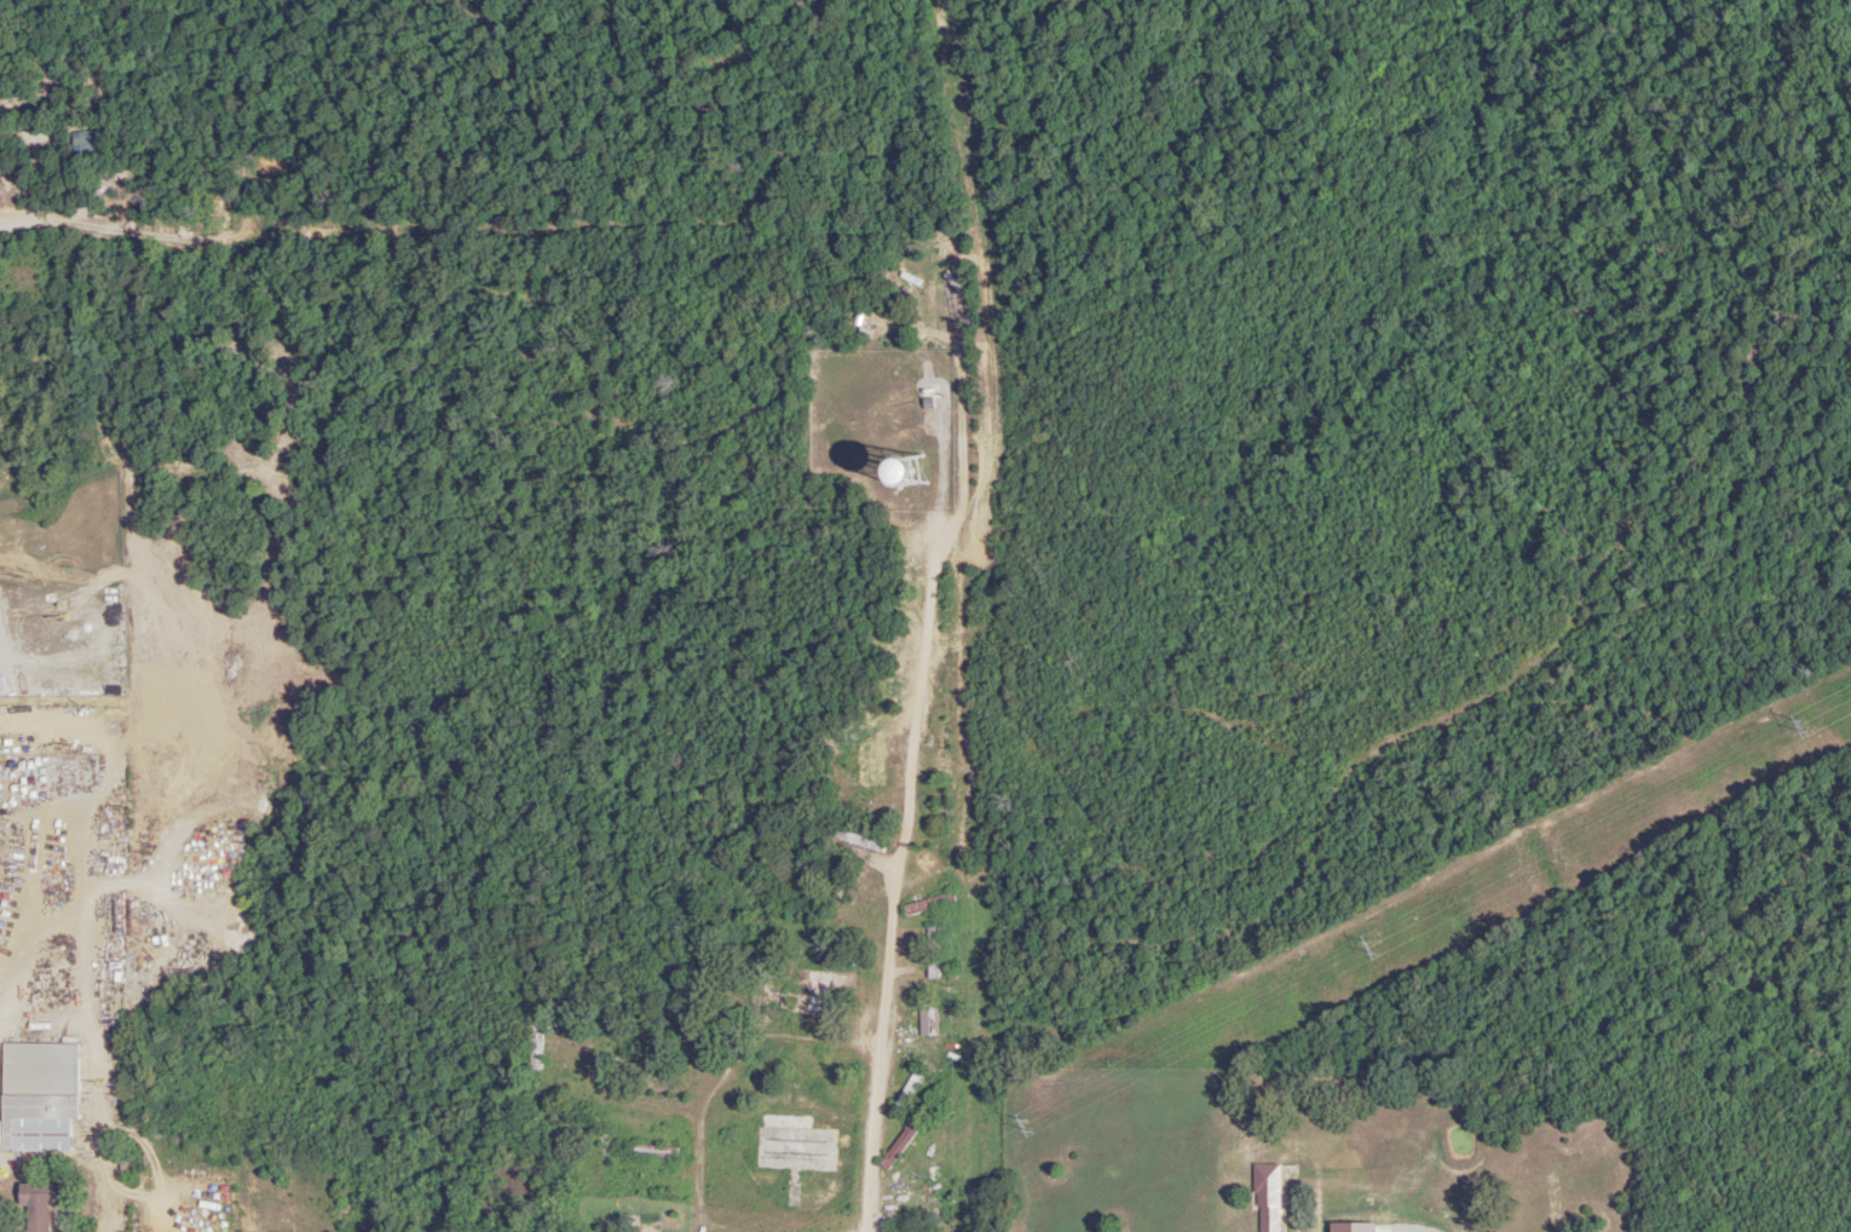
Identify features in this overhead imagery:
building: (950, 309)
building: (898, 634)
building: (938, 744)
road: (617, 798)
road: (890, 883)
building: (932, 952)
building: (796, 996)
building: (536, 1044)
building: (906, 1093)
building: (38, 1096)
road: (703, 1104)
building: (630, 1122)
building: (794, 1145)
building: (898, 1146)
building: (653, 1151)
road: (102, 1182)
building: (1265, 1197)
building: (642, 1202)
building: (36, 1204)
building: (911, 1221)
building: (625, 1225)
road: (835, 1226)

